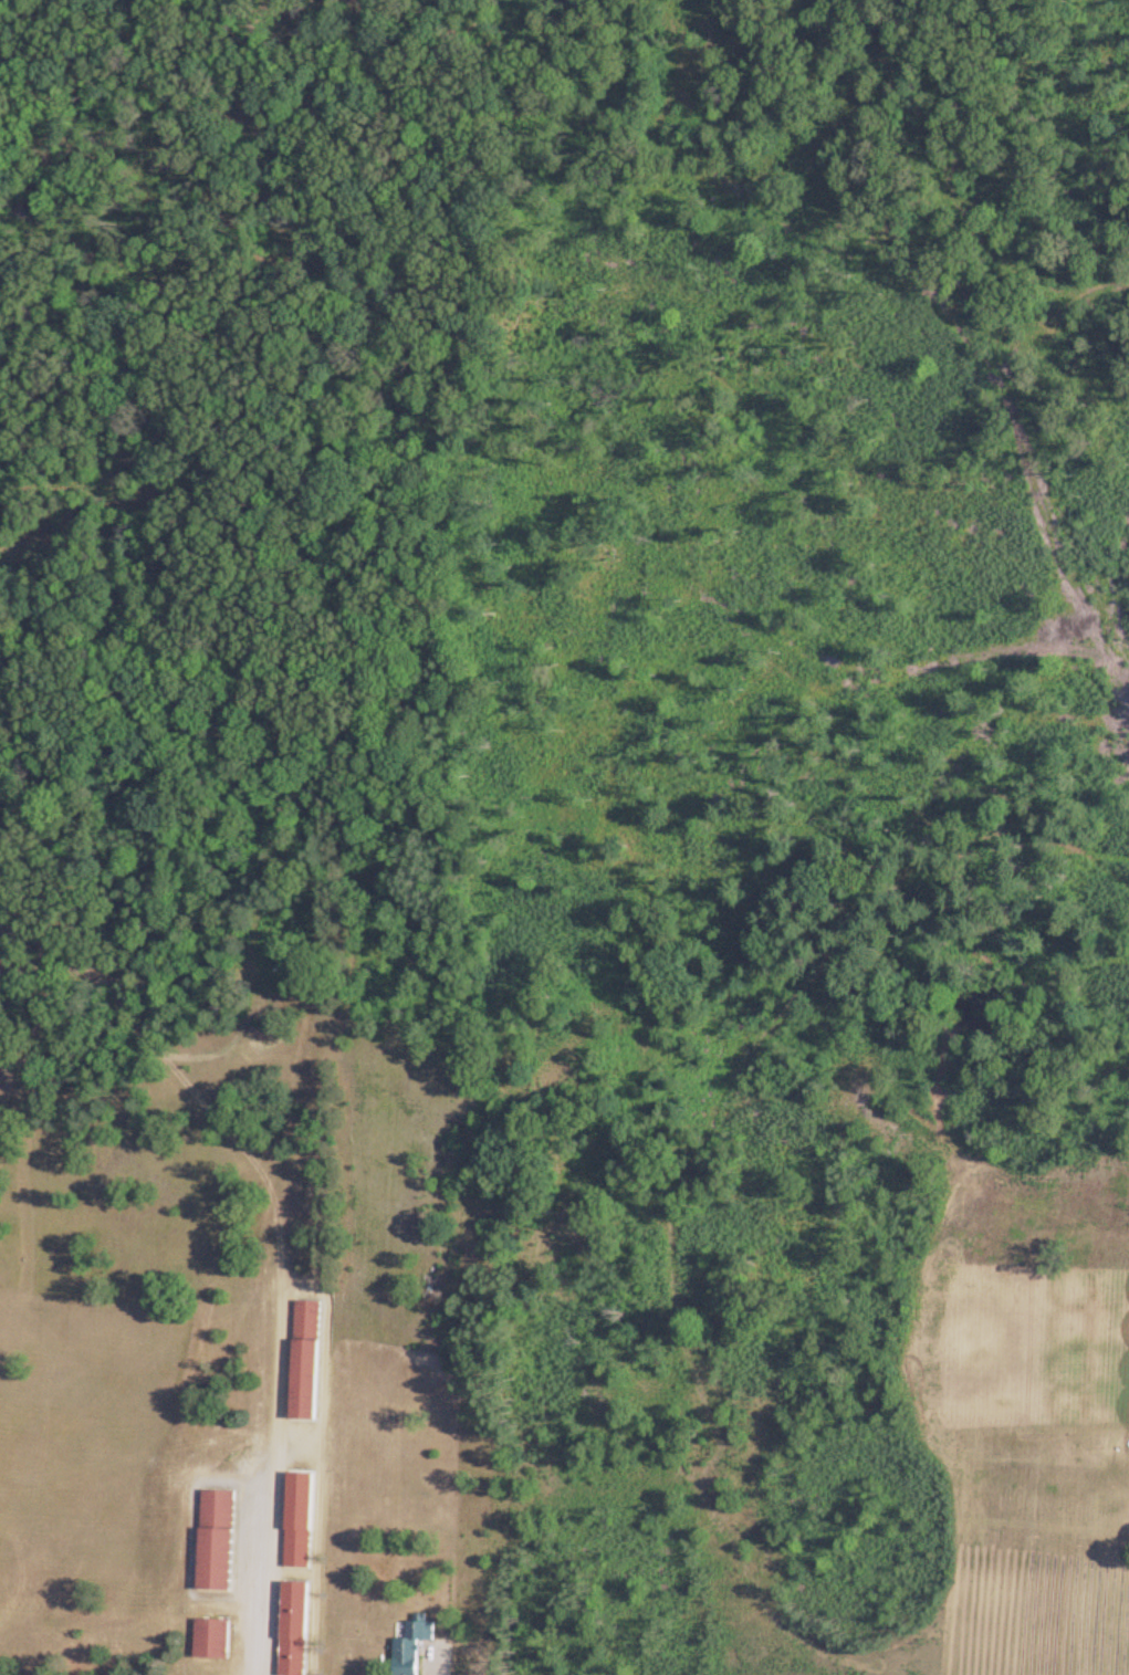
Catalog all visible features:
building: (301, 1360)
building: (299, 1515)
building: (212, 1540)
building: (290, 1627)
building: (407, 1645)

